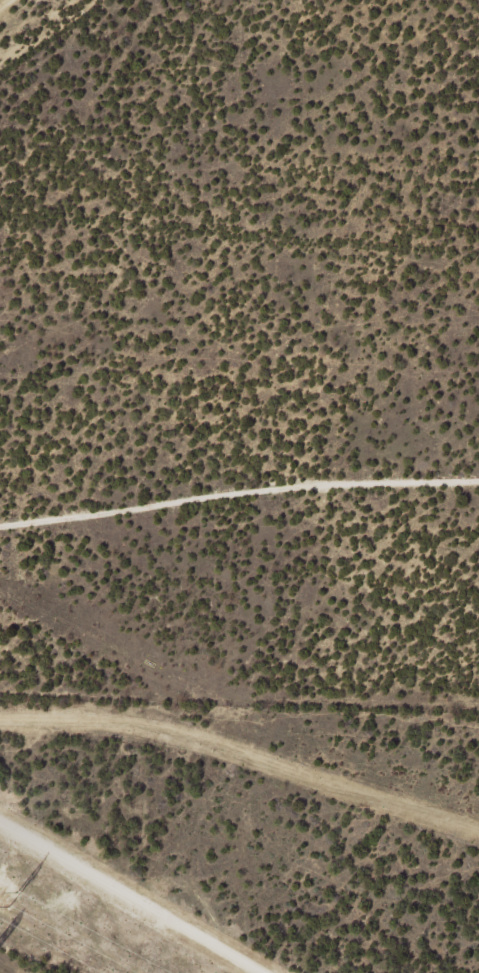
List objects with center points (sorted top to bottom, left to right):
road: (27, 15)
road: (239, 613)
road: (242, 756)

